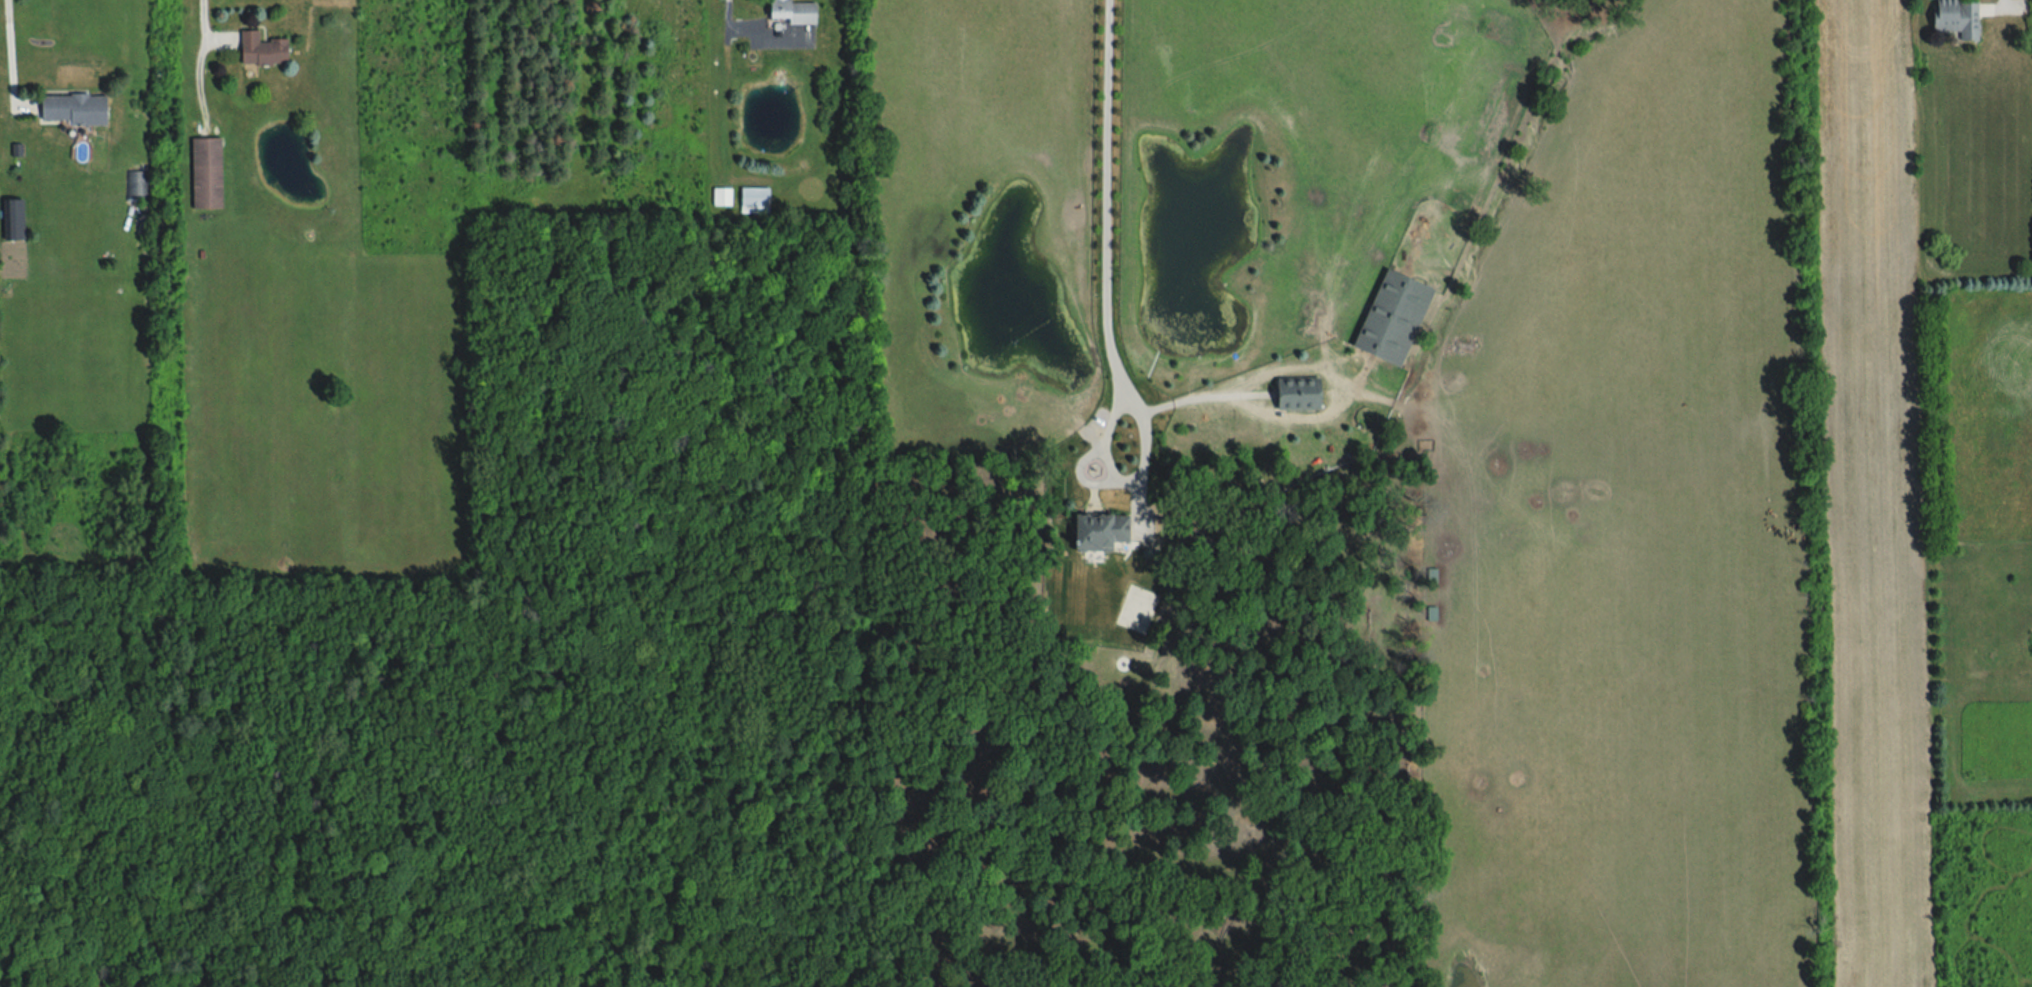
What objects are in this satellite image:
road: (2001, 1)
building: (8, 10)
building: (788, 12)
road: (205, 17)
building: (1951, 17)
road: (750, 34)
road: (11, 48)
building: (257, 48)
building: (74, 107)
building: (202, 173)
building: (723, 198)
road: (1111, 200)
building: (757, 201)
building: (1387, 318)
road: (1113, 468)
road: (1108, 487)
building: (1098, 534)
crop: (1888, 551)
building: (1142, 610)

